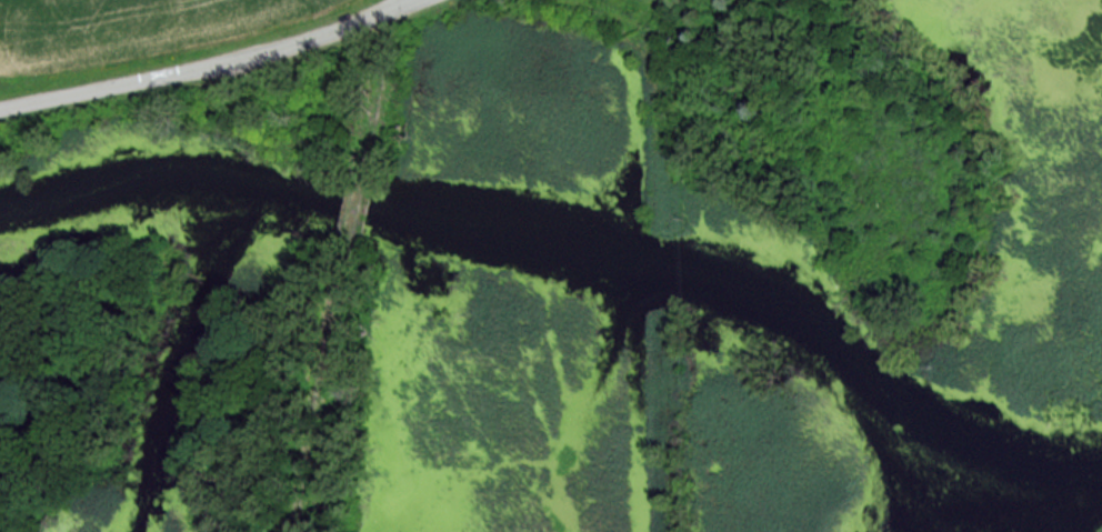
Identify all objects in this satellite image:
crop: (109, 20)
road: (211, 66)

